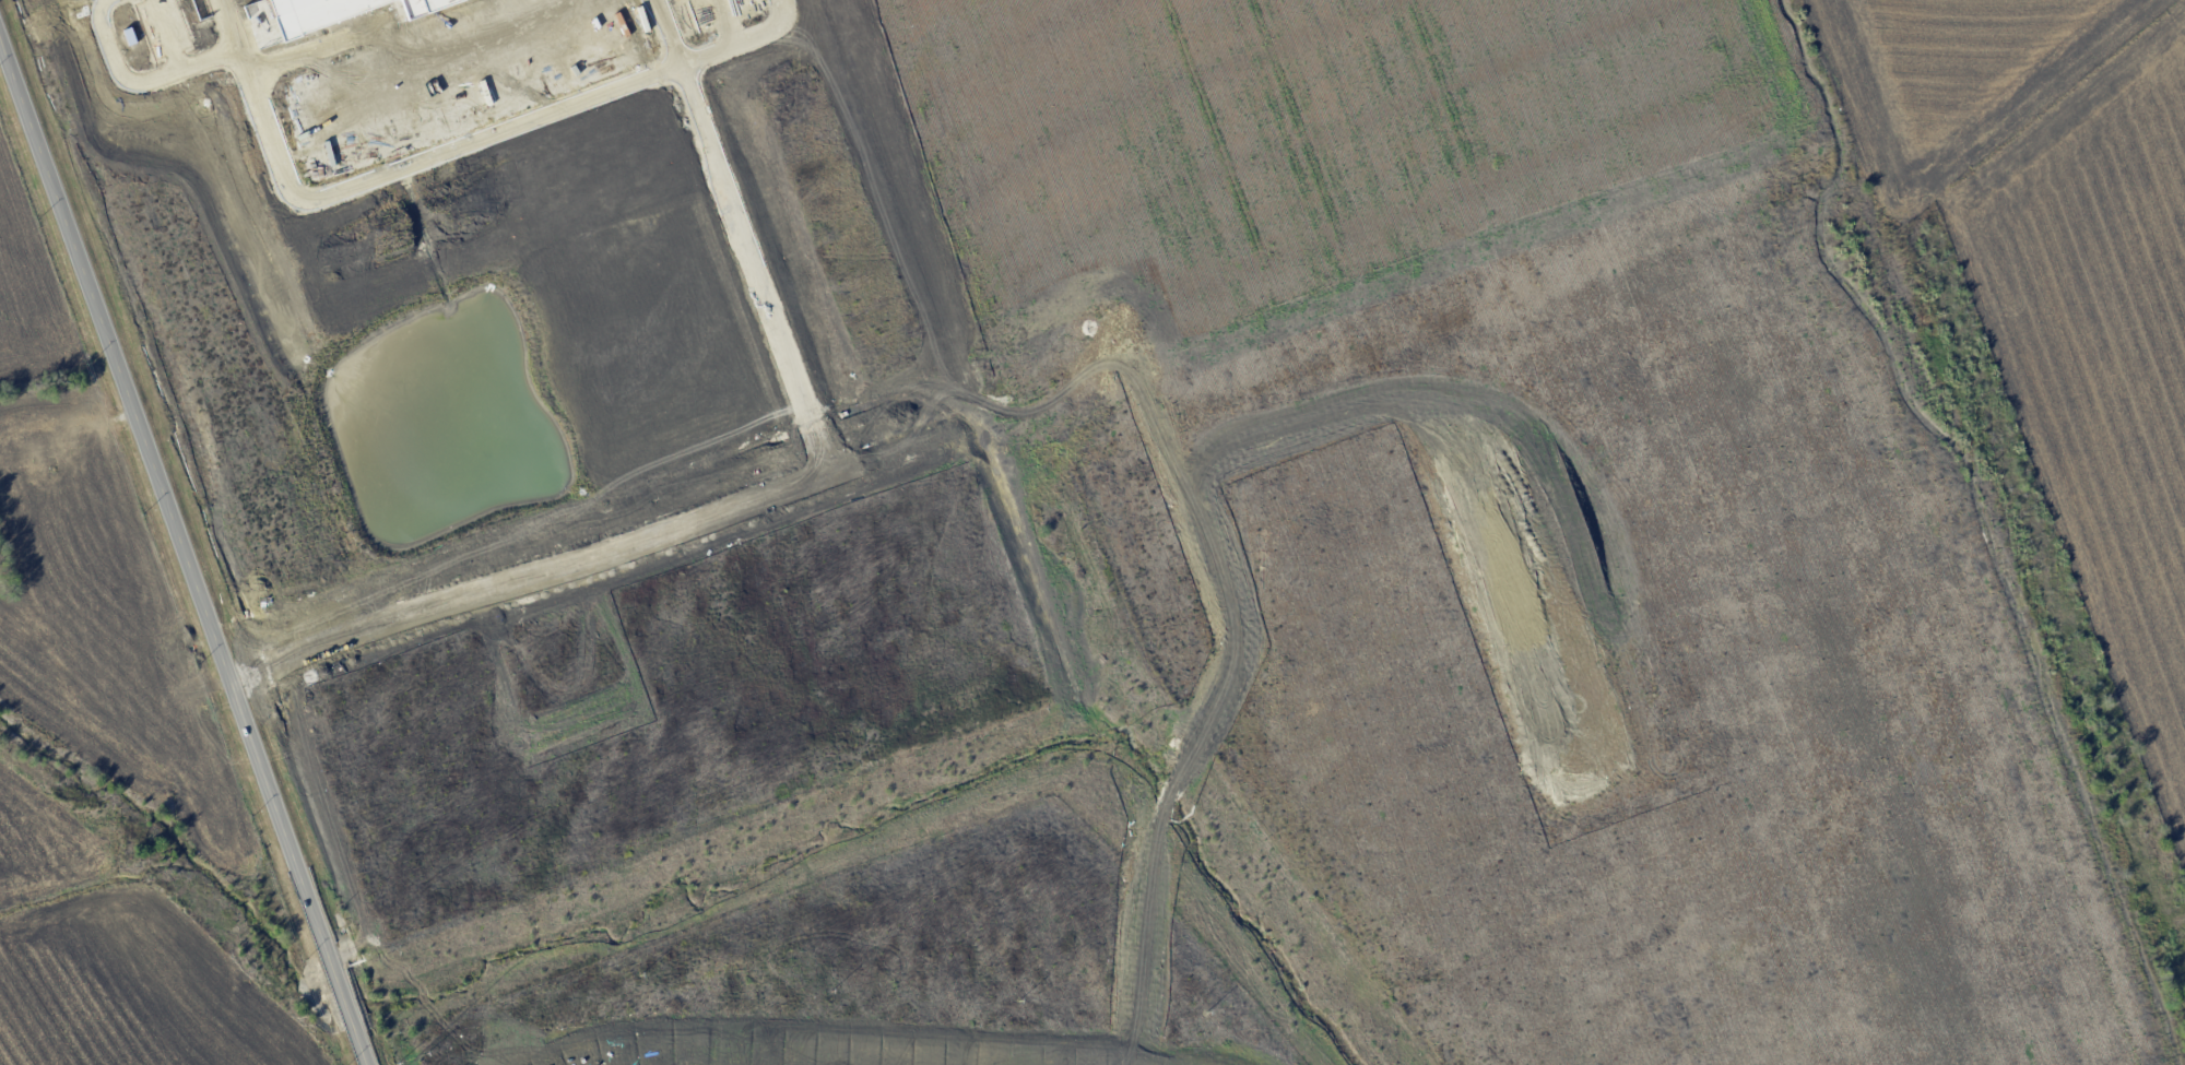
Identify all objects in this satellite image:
road: (228, 26)
road: (665, 33)
road: (741, 42)
road: (319, 199)
road: (1662, 244)
road: (755, 269)
road: (1540, 364)
road: (1256, 391)
road: (1038, 395)
road: (181, 556)
road: (1927, 670)
road: (1710, 707)
road: (1484, 711)
road: (2001, 827)
road: (1970, 838)
road: (2012, 859)
road: (1981, 871)
road: (1798, 900)
road: (1847, 906)
road: (1767, 912)
road: (1809, 932)
road: (1777, 944)

